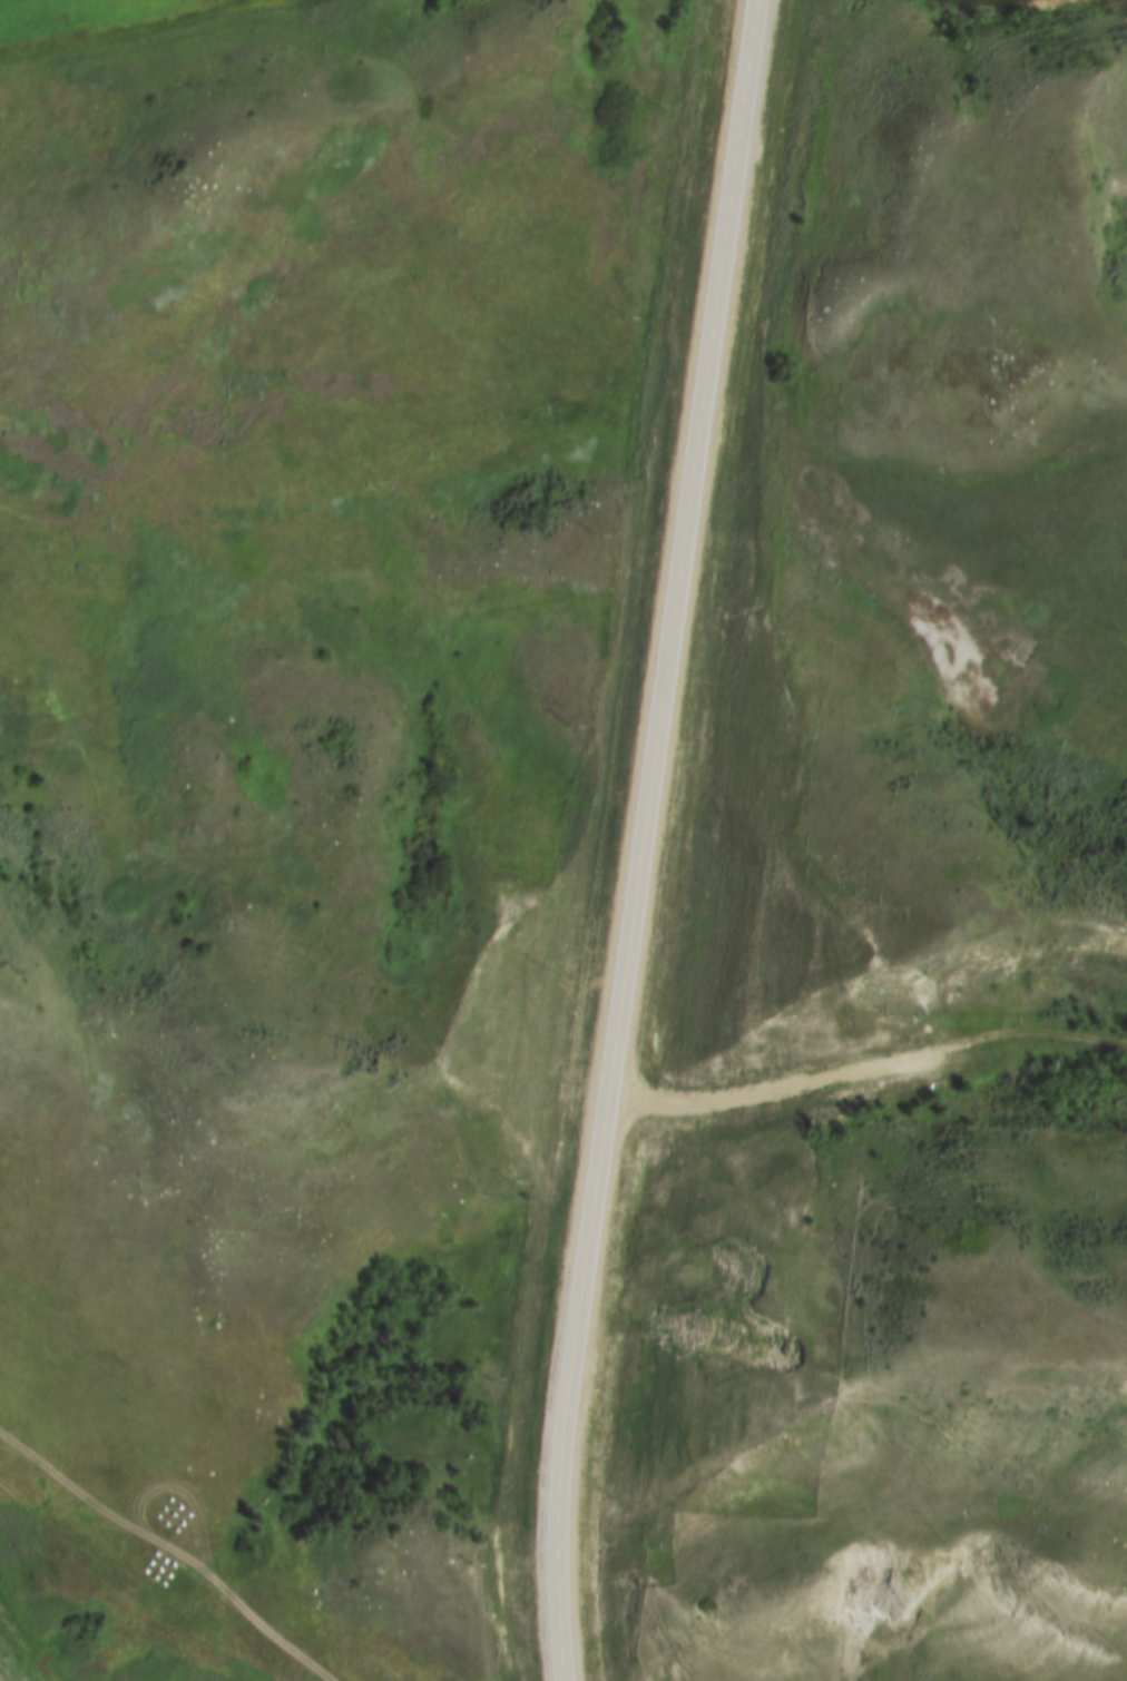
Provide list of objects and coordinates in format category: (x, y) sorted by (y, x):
road: (643, 839)
road: (866, 1077)
road: (111, 1610)

